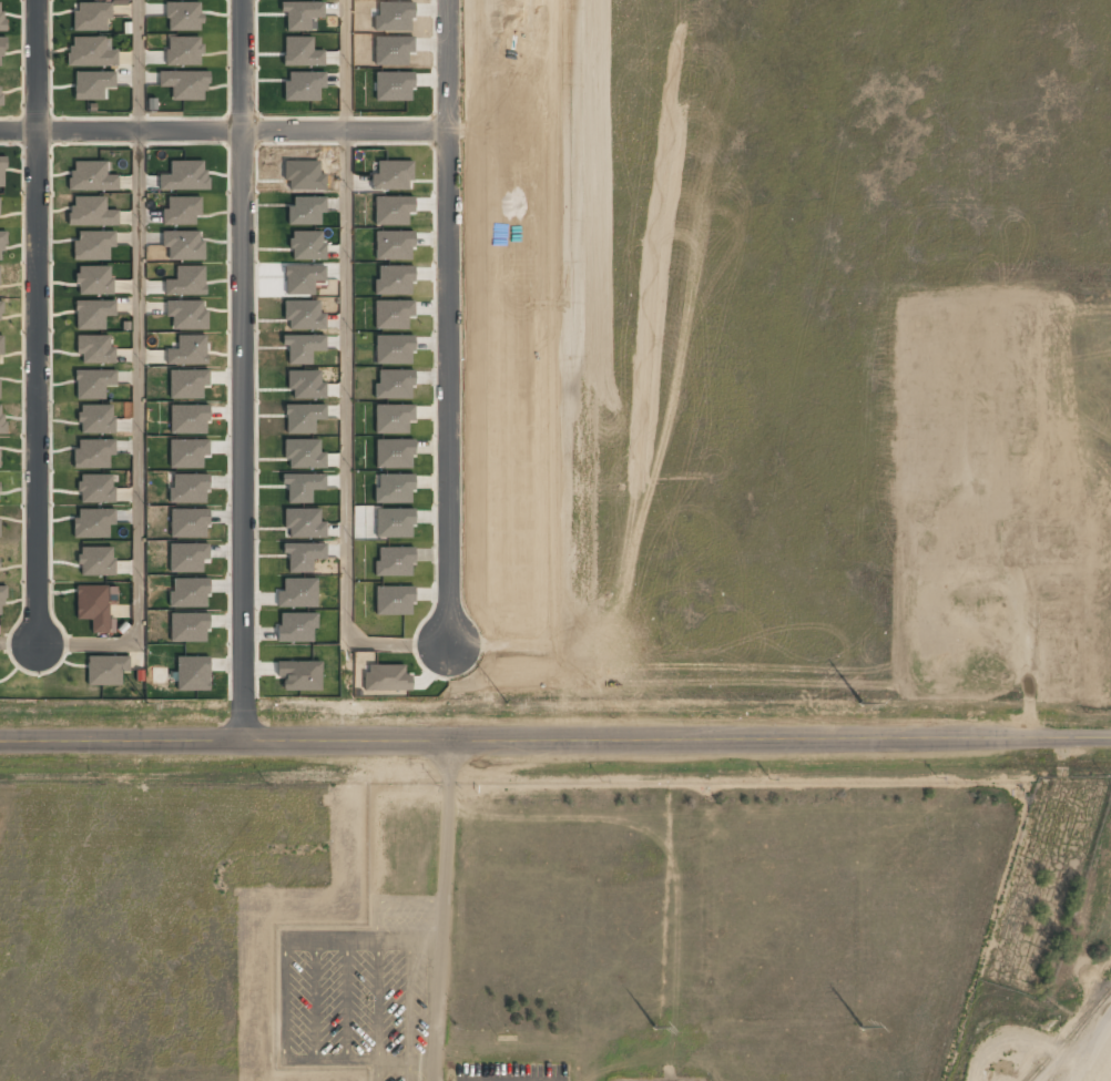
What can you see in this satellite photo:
building: (300, 14)
building: (91, 16)
building: (183, 16)
building: (1, 17)
building: (183, 50)
building: (1, 51)
building: (91, 52)
building: (300, 52)
road: (137, 65)
road: (344, 65)
building: (92, 84)
building: (184, 84)
building: (0, 103)
road: (223, 131)
building: (2, 172)
building: (184, 175)
building: (391, 175)
building: (91, 176)
building: (391, 210)
building: (181, 211)
building: (91, 212)
building: (93, 245)
building: (183, 245)
building: (393, 245)
building: (0, 246)
building: (93, 279)
building: (394, 281)
building: (186, 282)
building: (93, 314)
building: (186, 314)
building: (393, 314)
road: (37, 320)
road: (447, 320)
building: (1, 345)
building: (94, 349)
building: (393, 349)
building: (187, 350)
road: (242, 371)
building: (93, 383)
building: (186, 384)
building: (95, 418)
building: (1, 419)
building: (187, 419)
road: (137, 436)
road: (346, 436)
building: (93, 453)
building: (187, 453)
building: (95, 488)
building: (187, 488)
building: (924, 513)
building: (93, 522)
building: (188, 522)
building: (1016, 543)
building: (186, 557)
building: (95, 560)
building: (188, 593)
building: (2, 601)
building: (93, 605)
building: (1049, 618)
building: (188, 626)
road: (18, 643)
building: (105, 670)
building: (192, 673)
power tower: (147, 703)
power tower: (507, 703)
power tower: (862, 703)
road: (555, 742)
road: (442, 911)
power tower: (654, 1026)
power tower: (863, 1028)
railway: (1070, 1034)
railway: (1074, 1039)
railway: (1038, 1068)

